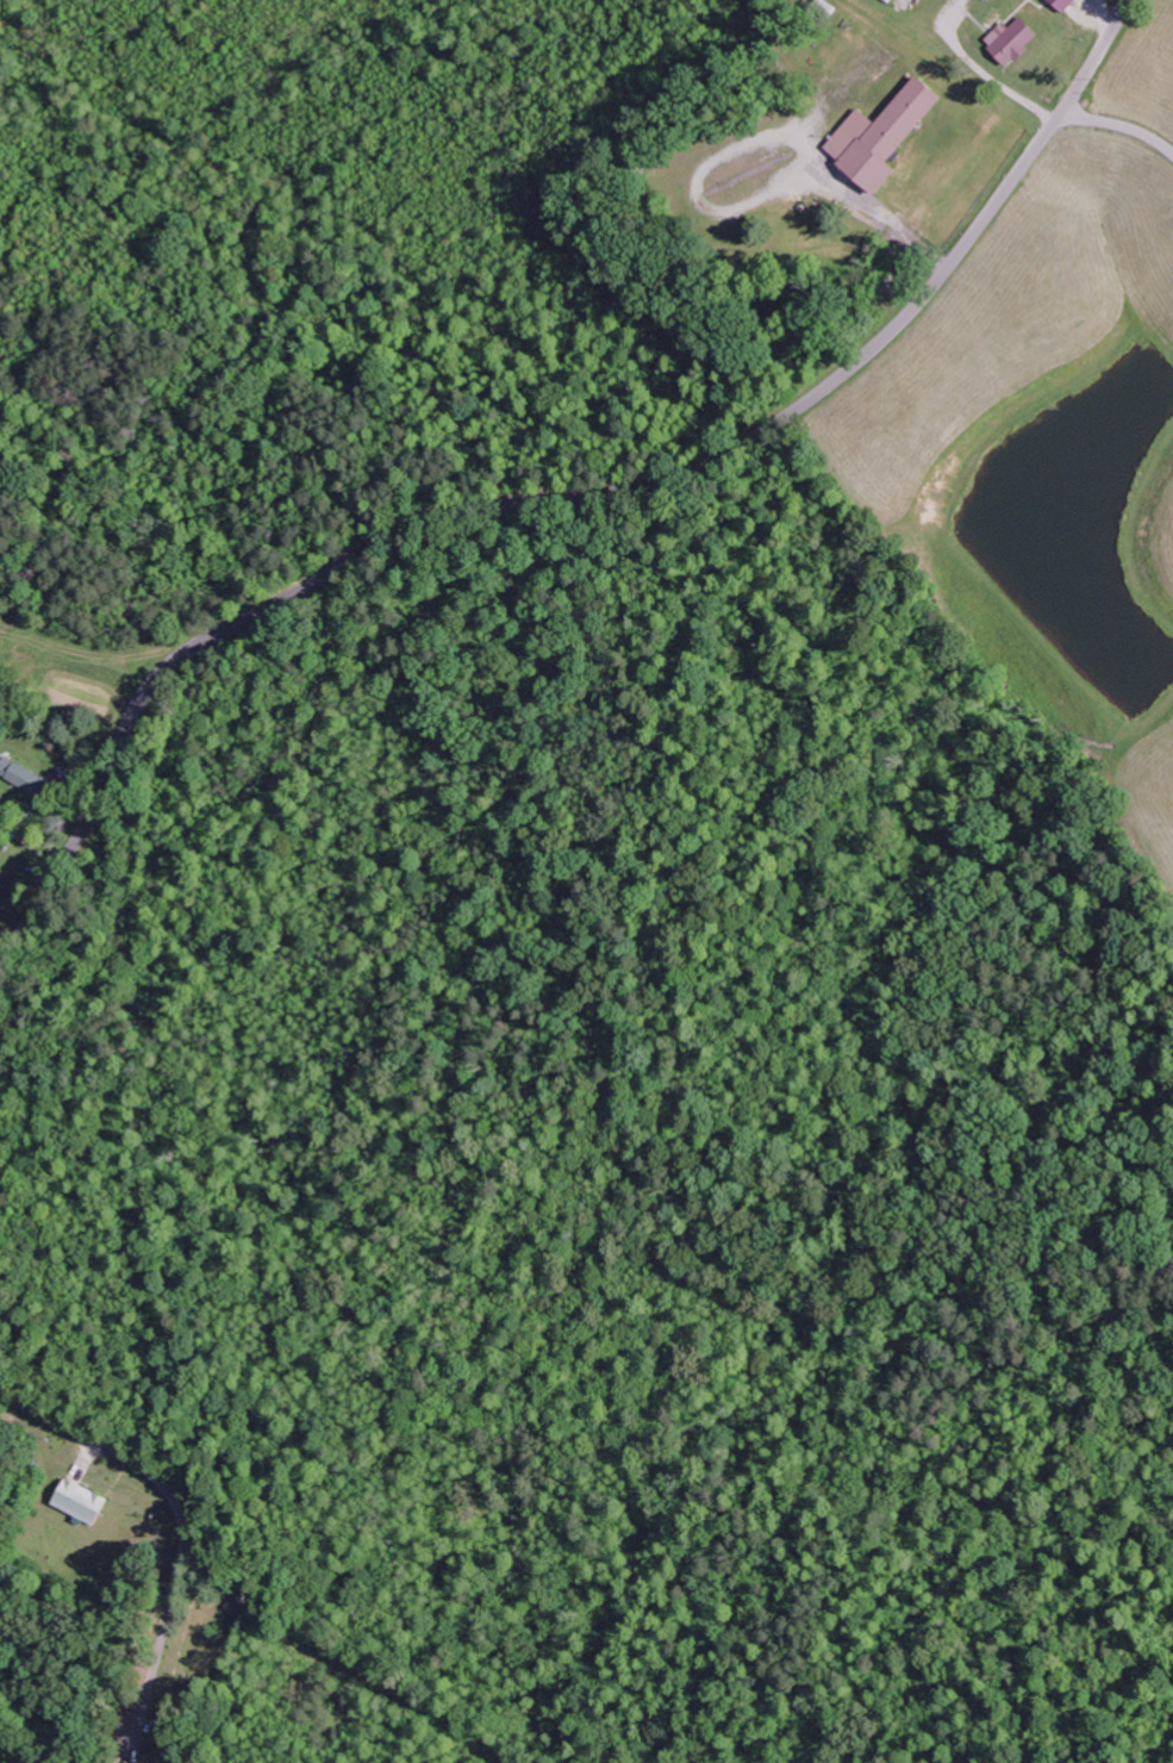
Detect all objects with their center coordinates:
building: (1069, 4)
building: (1018, 39)
road: (1119, 125)
building: (888, 135)
road: (564, 500)
building: (29, 778)
building: (87, 1502)
road: (186, 1528)

